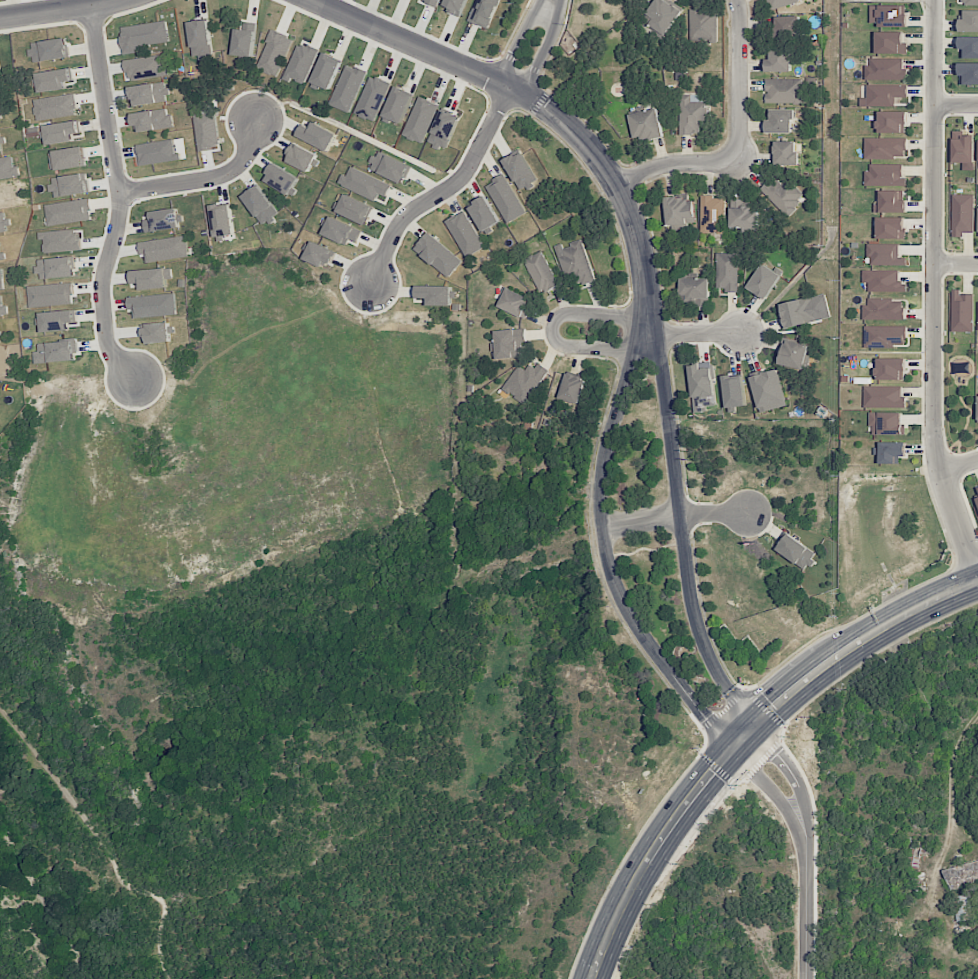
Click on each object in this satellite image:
road: (550, 1)
building: (431, 2)
building: (968, 2)
building: (779, 3)
road: (55, 9)
building: (483, 12)
building: (664, 15)
building: (889, 16)
building: (969, 21)
building: (703, 25)
building: (786, 26)
building: (143, 35)
building: (245, 38)
building: (201, 39)
road: (519, 41)
building: (891, 42)
road: (411, 43)
building: (968, 47)
building: (49, 50)
road: (542, 52)
building: (275, 53)
building: (779, 61)
building: (301, 62)
building: (886, 69)
building: (326, 72)
building: (968, 73)
building: (348, 88)
building: (784, 91)
building: (148, 94)
building: (883, 95)
building: (372, 98)
building: (398, 105)
building: (56, 106)
road: (957, 106)
building: (693, 113)
building: (420, 120)
building: (780, 121)
building: (892, 122)
building: (646, 125)
building: (444, 129)
building: (207, 130)
building: (61, 132)
building: (317, 135)
road: (740, 145)
building: (885, 148)
building: (964, 151)
building: (158, 152)
building: (785, 153)
building: (301, 157)
building: (390, 167)
building: (520, 170)
building: (885, 175)
road: (205, 176)
road: (608, 177)
building: (282, 179)
building: (365, 184)
building: (70, 185)
road: (441, 189)
building: (781, 194)
road: (119, 196)
building: (506, 198)
building: (890, 203)
building: (261, 205)
building: (355, 209)
building: (680, 210)
building: (69, 212)
building: (484, 213)
building: (713, 214)
building: (743, 214)
building: (962, 214)
building: (162, 220)
building: (891, 228)
building: (341, 231)
building: (465, 234)
building: (165, 249)
building: (438, 254)
building: (320, 255)
building: (885, 255)
building: (575, 264)
road: (956, 265)
building: (57, 268)
building: (727, 271)
building: (541, 272)
building: (152, 278)
building: (764, 281)
building: (883, 281)
road: (935, 290)
building: (696, 291)
building: (434, 294)
building: (515, 302)
building: (153, 305)
building: (884, 309)
building: (799, 312)
building: (962, 312)
building: (57, 320)
road: (551, 329)
building: (157, 332)
road: (698, 335)
building: (885, 336)
building: (508, 343)
building: (55, 352)
building: (794, 354)
building: (961, 368)
building: (891, 369)
building: (524, 382)
building: (702, 387)
building: (572, 388)
building: (734, 391)
building: (768, 391)
building: (883, 397)
building: (977, 401)
building: (887, 423)
building: (892, 452)
road: (959, 468)
building: (977, 500)
road: (674, 516)
road: (682, 521)
road: (605, 543)
building: (796, 551)
traffic signals: (757, 724)
road: (743, 739)
traffic signals: (733, 751)
road: (792, 778)
road: (773, 793)
road: (950, 801)
building: (962, 874)
building: (962, 908)
road: (805, 910)

